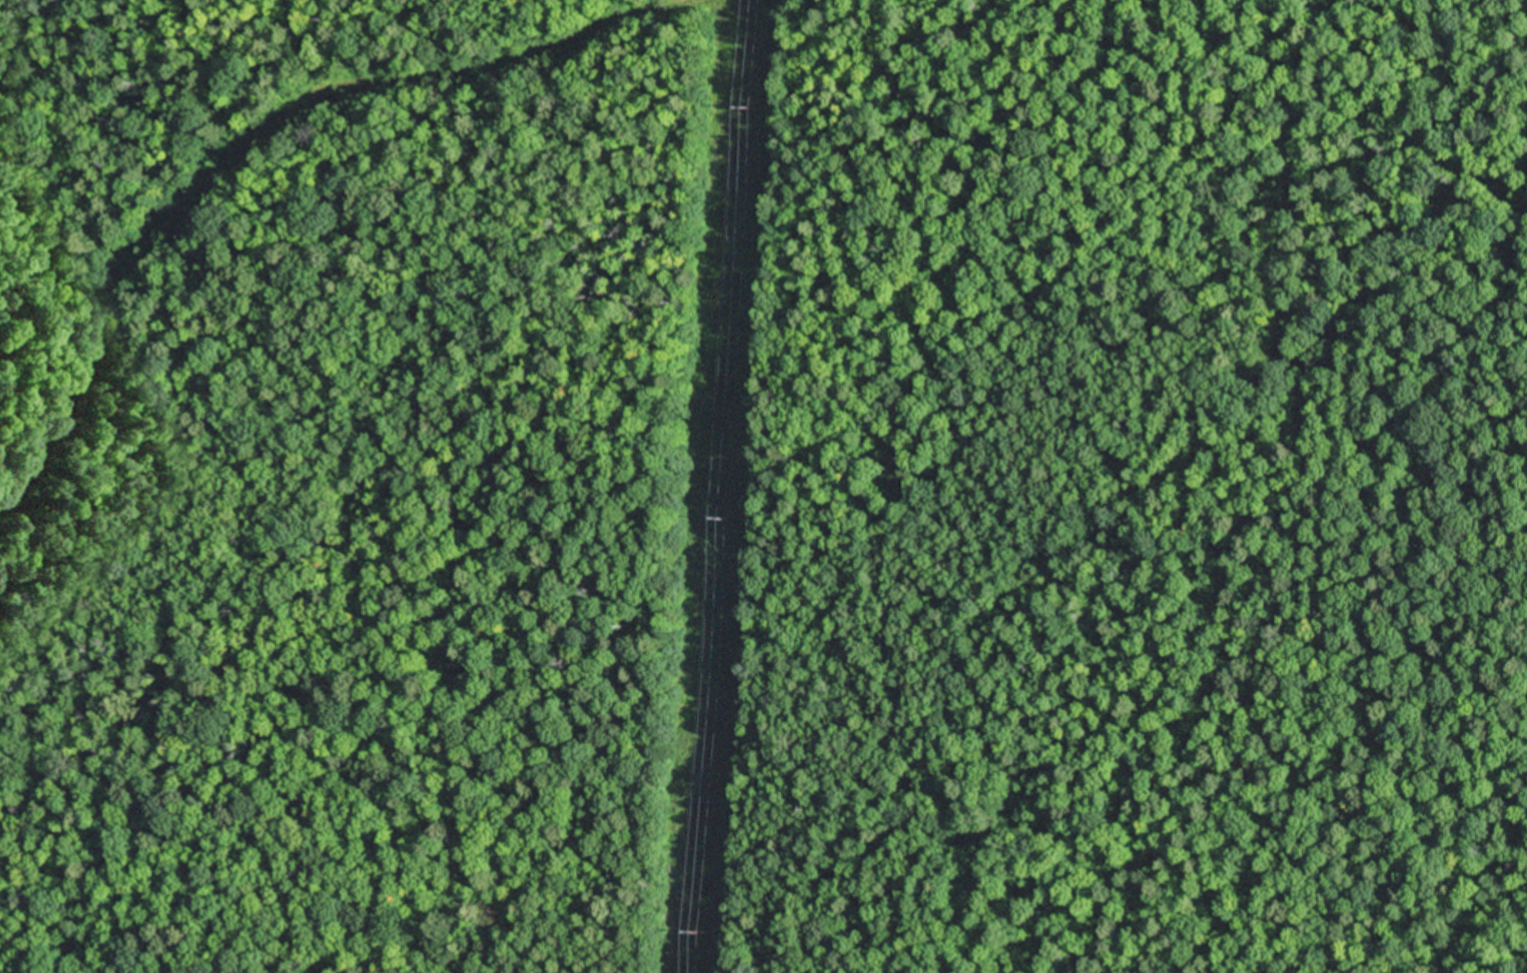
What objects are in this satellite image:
power tower: (750, 110)
power tower: (727, 521)
power tower: (703, 936)

